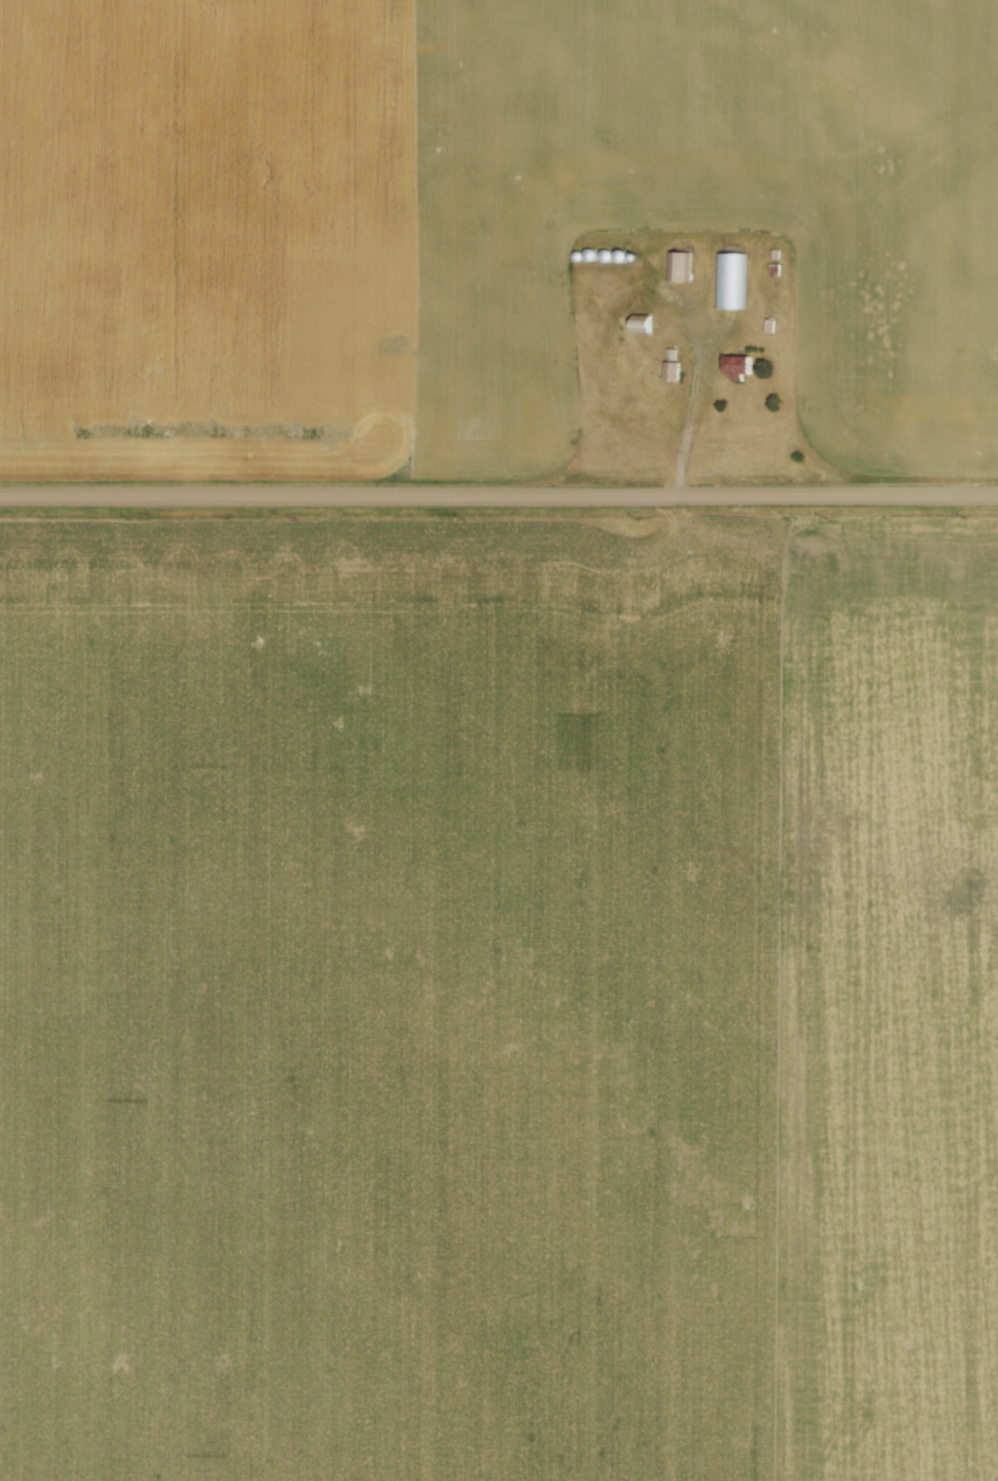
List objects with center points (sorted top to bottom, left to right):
crop: (474, 220)
building: (774, 250)
silo: (591, 252)
silo: (578, 253)
silo: (608, 253)
silo: (623, 254)
silo: (636, 254)
building: (679, 264)
building: (774, 267)
building: (729, 279)
building: (641, 322)
building: (770, 323)
building: (738, 365)
building: (672, 369)
road: (690, 404)
road: (498, 494)
crop: (498, 998)

